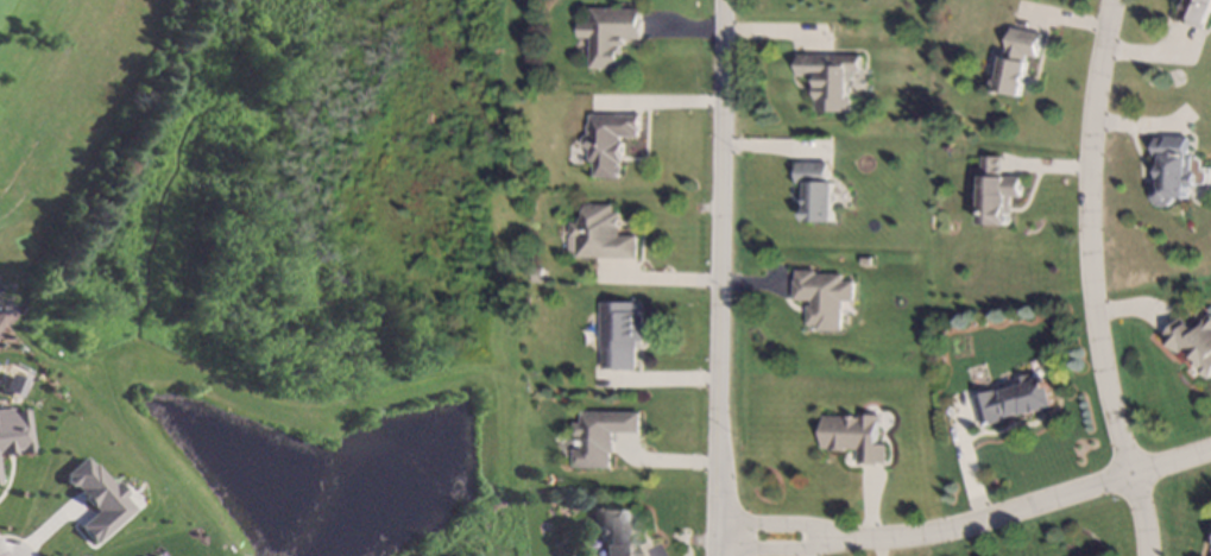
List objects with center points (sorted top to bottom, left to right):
building: (1197, 12)
building: (611, 34)
building: (1017, 62)
building: (830, 80)
park: (74, 124)
building: (610, 143)
building: (1173, 170)
building: (816, 191)
building: (997, 192)
building: (603, 234)
road: (1086, 238)
building: (537, 276)
road: (721, 278)
building: (824, 298)
building: (620, 335)
building: (1193, 341)
building: (1014, 400)
building: (542, 404)
building: (11, 431)
building: (601, 436)
building: (856, 436)
building: (89, 498)
road: (1141, 513)
road: (970, 527)
building: (614, 533)
road: (4, 549)
building: (150, 555)
building: (157, 555)

